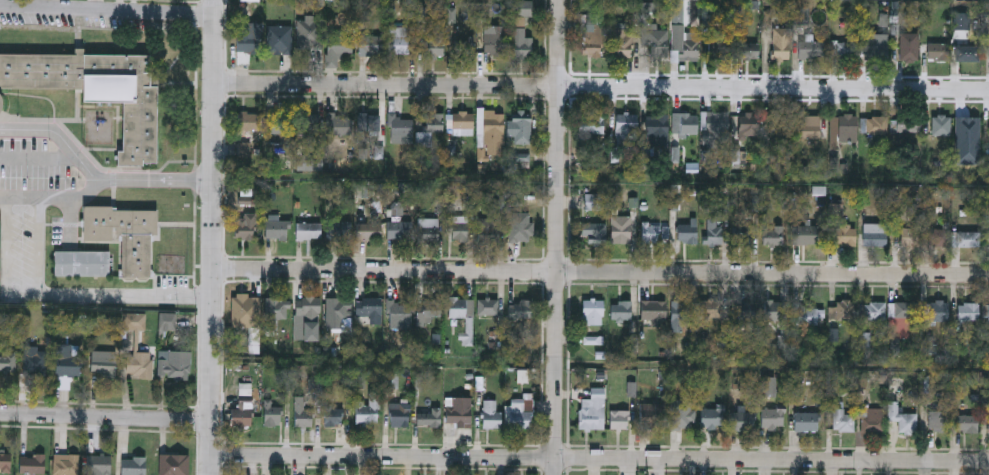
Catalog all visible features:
road: (109, 10)
building: (801, 15)
building: (309, 34)
building: (593, 35)
building: (248, 38)
building: (278, 39)
building: (398, 40)
building: (520, 40)
building: (494, 41)
building: (683, 43)
building: (340, 44)
building: (623, 44)
building: (656, 44)
building: (370, 45)
building: (717, 45)
building: (780, 45)
building: (875, 46)
building: (434, 47)
building: (908, 47)
building: (745, 49)
building: (810, 49)
building: (463, 50)
building: (845, 50)
building: (938, 51)
building: (966, 53)
road: (603, 85)
building: (97, 89)
building: (0, 101)
building: (462, 120)
building: (248, 121)
building: (520, 121)
building: (308, 123)
building: (685, 123)
building: (749, 123)
building: (280, 124)
building: (340, 124)
building: (590, 124)
building: (716, 124)
building: (877, 124)
building: (907, 124)
building: (368, 125)
building: (625, 125)
building: (940, 125)
building: (806, 126)
building: (490, 127)
building: (842, 127)
building: (400, 129)
building: (656, 130)
building: (778, 131)
building: (969, 132)
road: (92, 175)
road: (156, 179)
building: (593, 201)
building: (246, 226)
building: (275, 227)
building: (457, 227)
building: (336, 229)
building: (488, 229)
building: (367, 230)
building: (399, 230)
building: (427, 230)
building: (620, 230)
building: (307, 231)
building: (521, 231)
building: (649, 232)
building: (686, 232)
building: (594, 233)
building: (124, 234)
building: (713, 234)
building: (741, 234)
building: (773, 234)
building: (805, 234)
building: (843, 234)
building: (873, 234)
road: (214, 237)
road: (556, 237)
building: (909, 237)
building: (938, 237)
building: (967, 238)
road: (7, 247)
road: (39, 247)
building: (82, 263)
road: (601, 271)
road: (110, 297)
building: (241, 305)
building: (309, 306)
building: (488, 306)
building: (368, 307)
building: (460, 307)
building: (710, 308)
building: (427, 309)
building: (520, 309)
building: (772, 309)
building: (844, 310)
building: (874, 310)
building: (903, 310)
building: (937, 310)
building: (275, 311)
building: (399, 311)
building: (653, 311)
building: (967, 311)
building: (337, 312)
building: (592, 312)
building: (621, 312)
building: (741, 312)
building: (681, 314)
building: (987, 314)
building: (806, 315)
building: (167, 321)
building: (35, 360)
building: (104, 362)
building: (8, 363)
building: (140, 364)
building: (175, 364)
building: (67, 366)
building: (767, 385)
building: (243, 408)
building: (367, 410)
building: (459, 411)
building: (272, 412)
building: (301, 413)
building: (332, 414)
building: (399, 414)
building: (491, 414)
building: (520, 414)
building: (651, 415)
road: (105, 416)
building: (429, 417)
building: (589, 417)
building: (772, 418)
building: (841, 418)
building: (902, 418)
building: (682, 419)
building: (711, 419)
building: (618, 420)
building: (871, 420)
building: (742, 421)
building: (805, 421)
building: (938, 421)
building: (966, 423)
building: (988, 425)
road: (599, 458)
building: (5, 461)
building: (32, 463)
building: (98, 464)
building: (67, 465)
building: (134, 466)
building: (175, 466)

